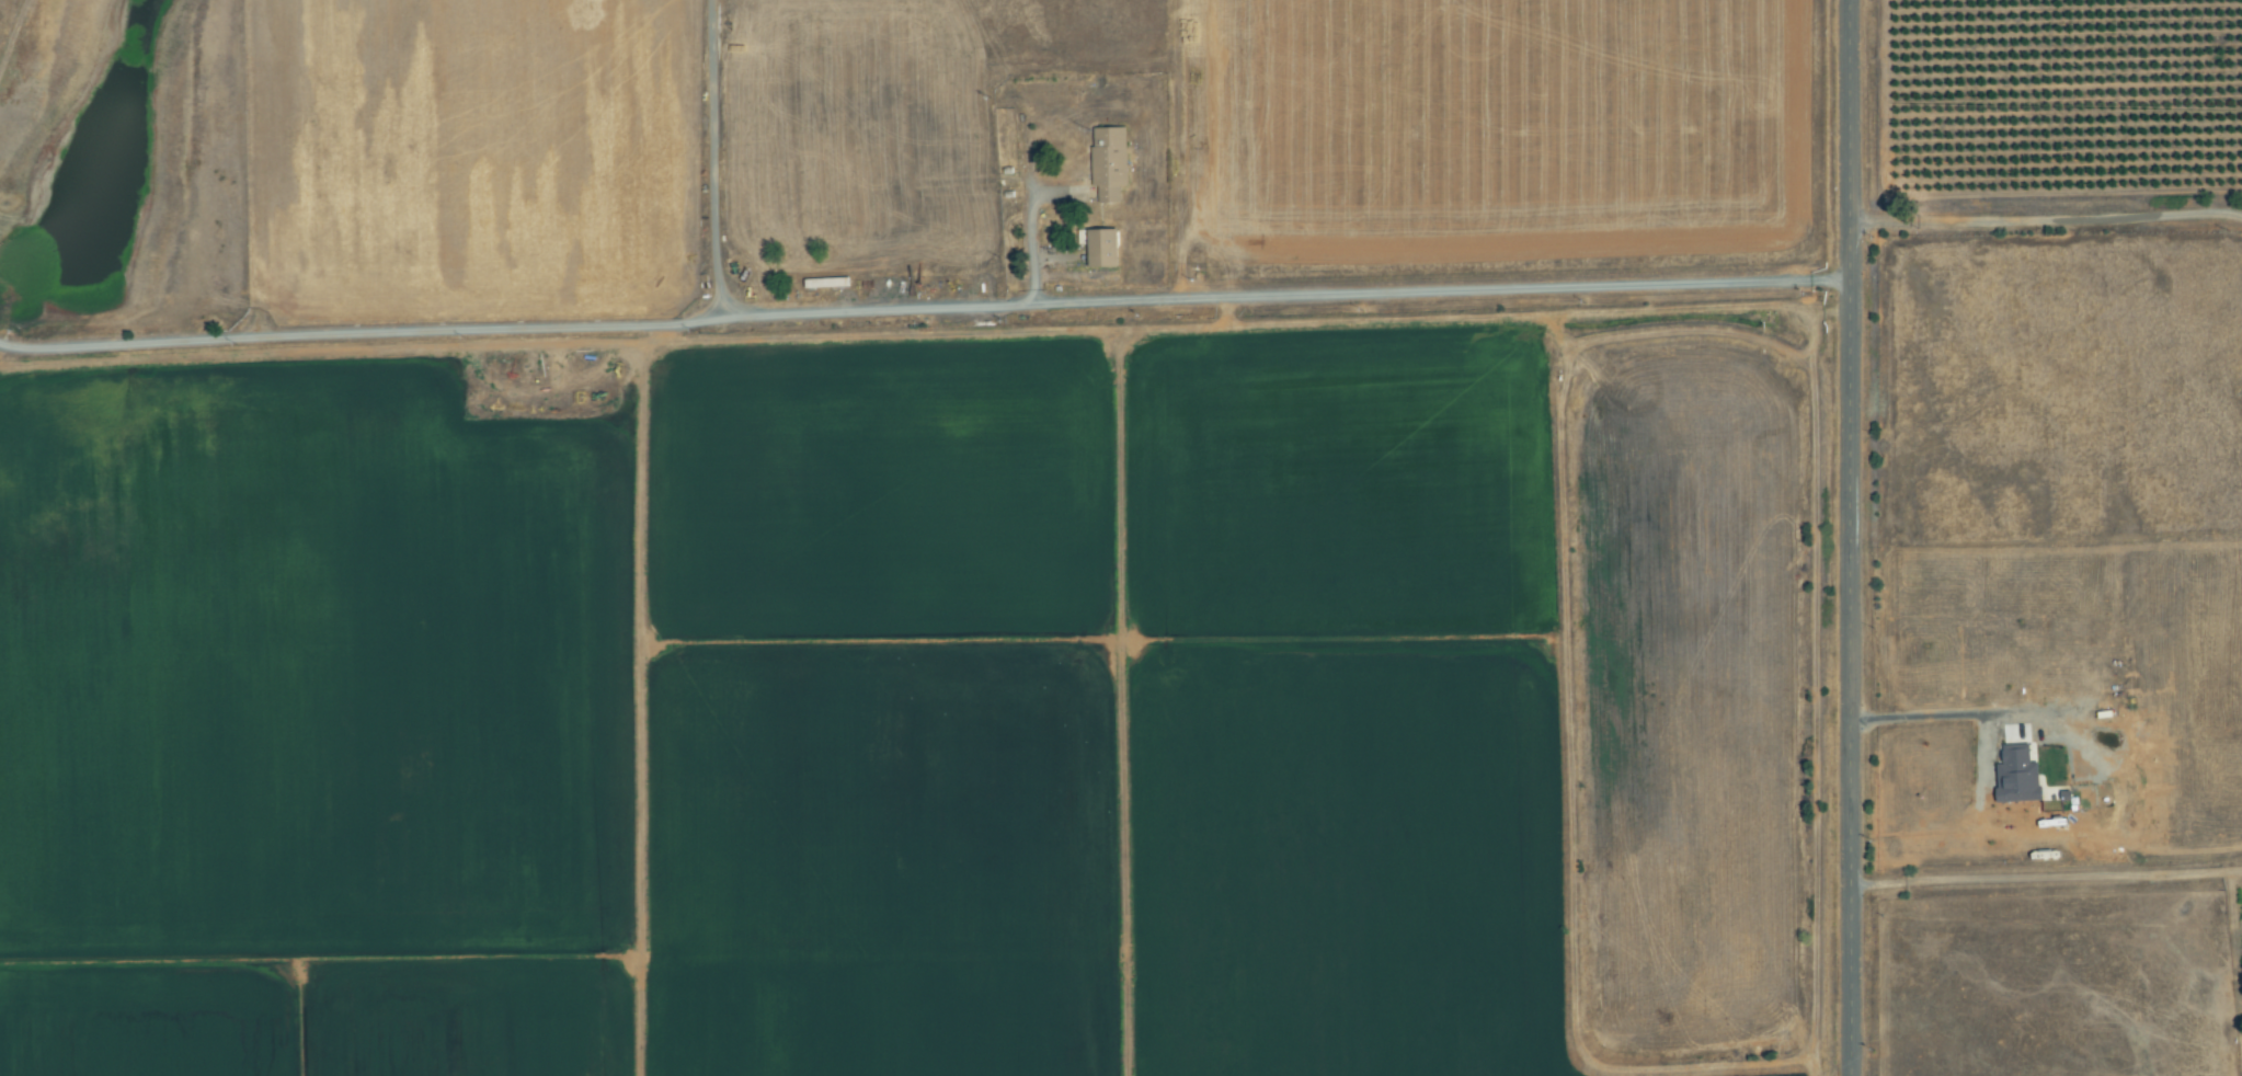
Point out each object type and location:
road: (712, 161)
building: (1110, 163)
building: (1105, 249)
road: (2045, 267)
building: (828, 284)
road: (925, 314)
road: (1, 345)
road: (1850, 538)
road: (2047, 873)

